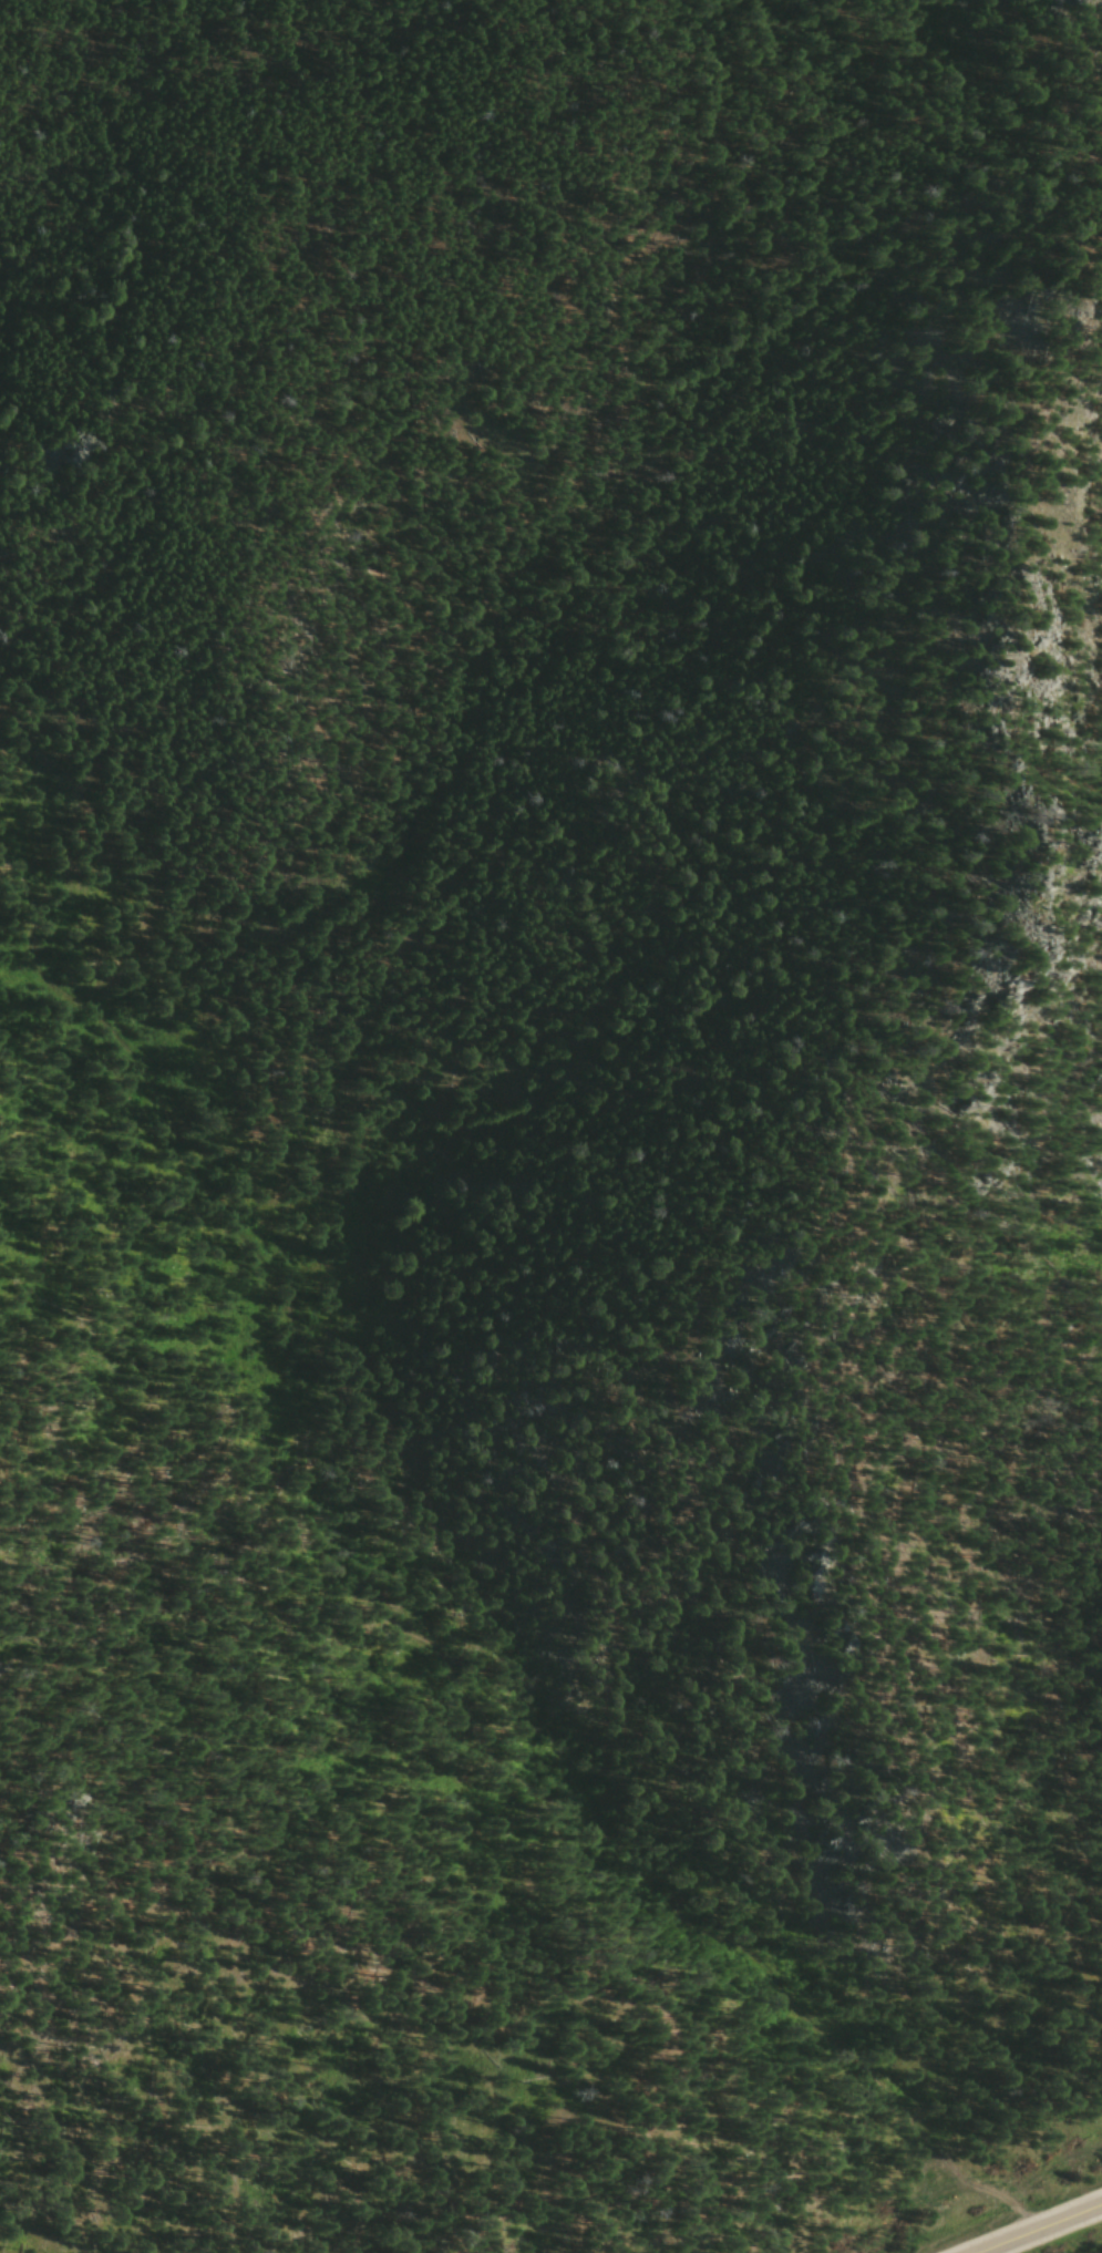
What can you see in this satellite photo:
road: (1054, 2234)

